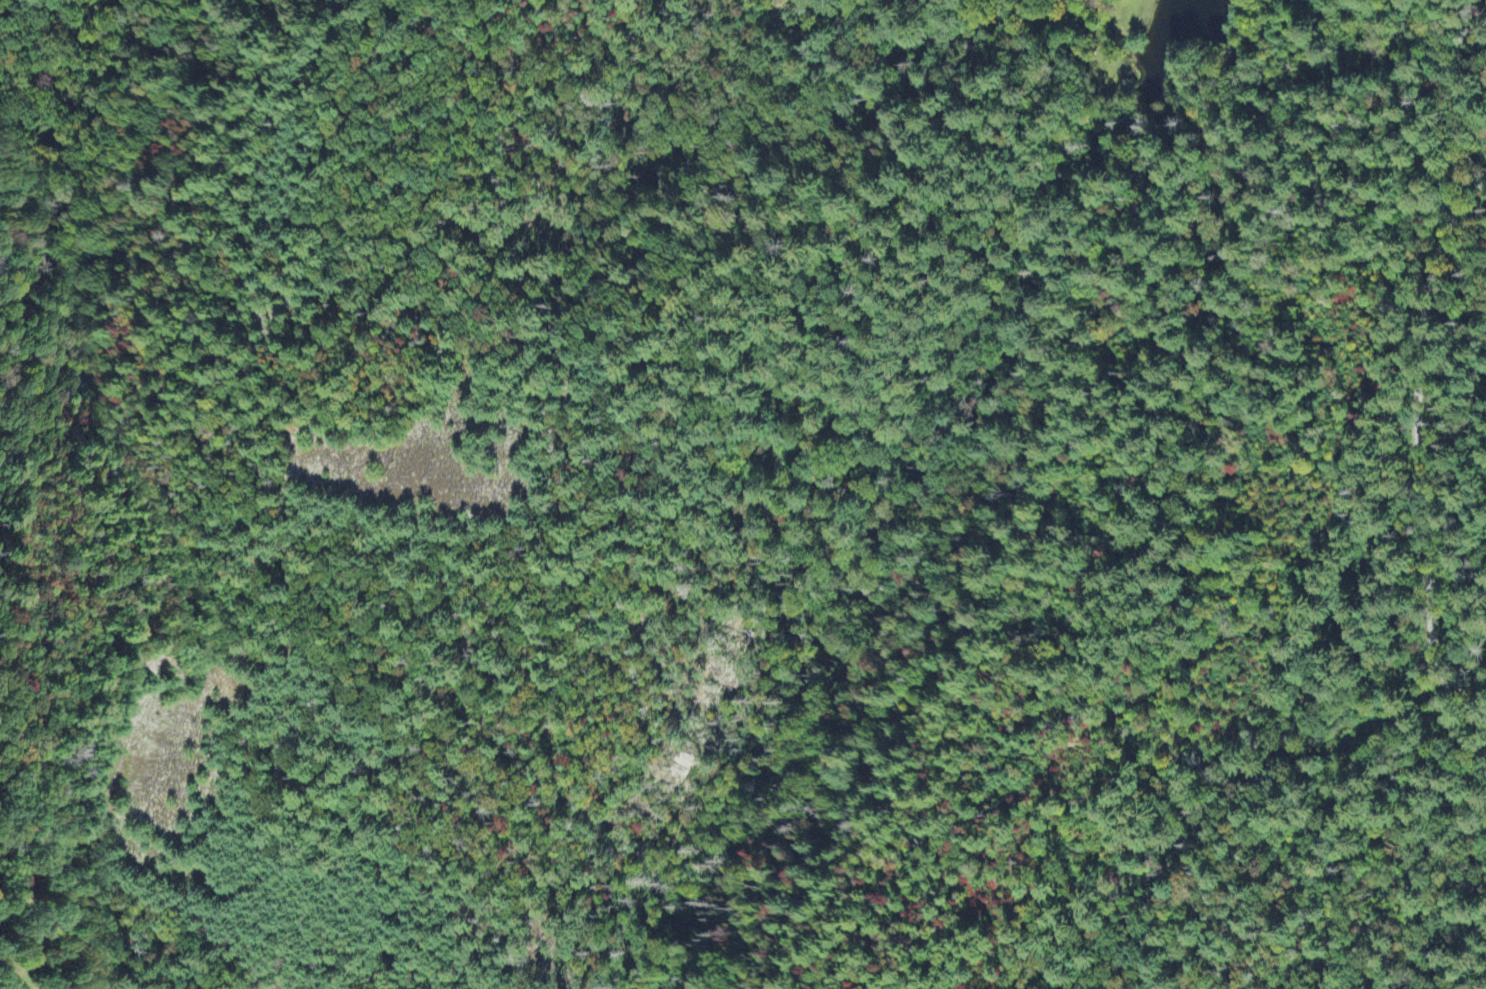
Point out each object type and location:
road: (1414, 359)

